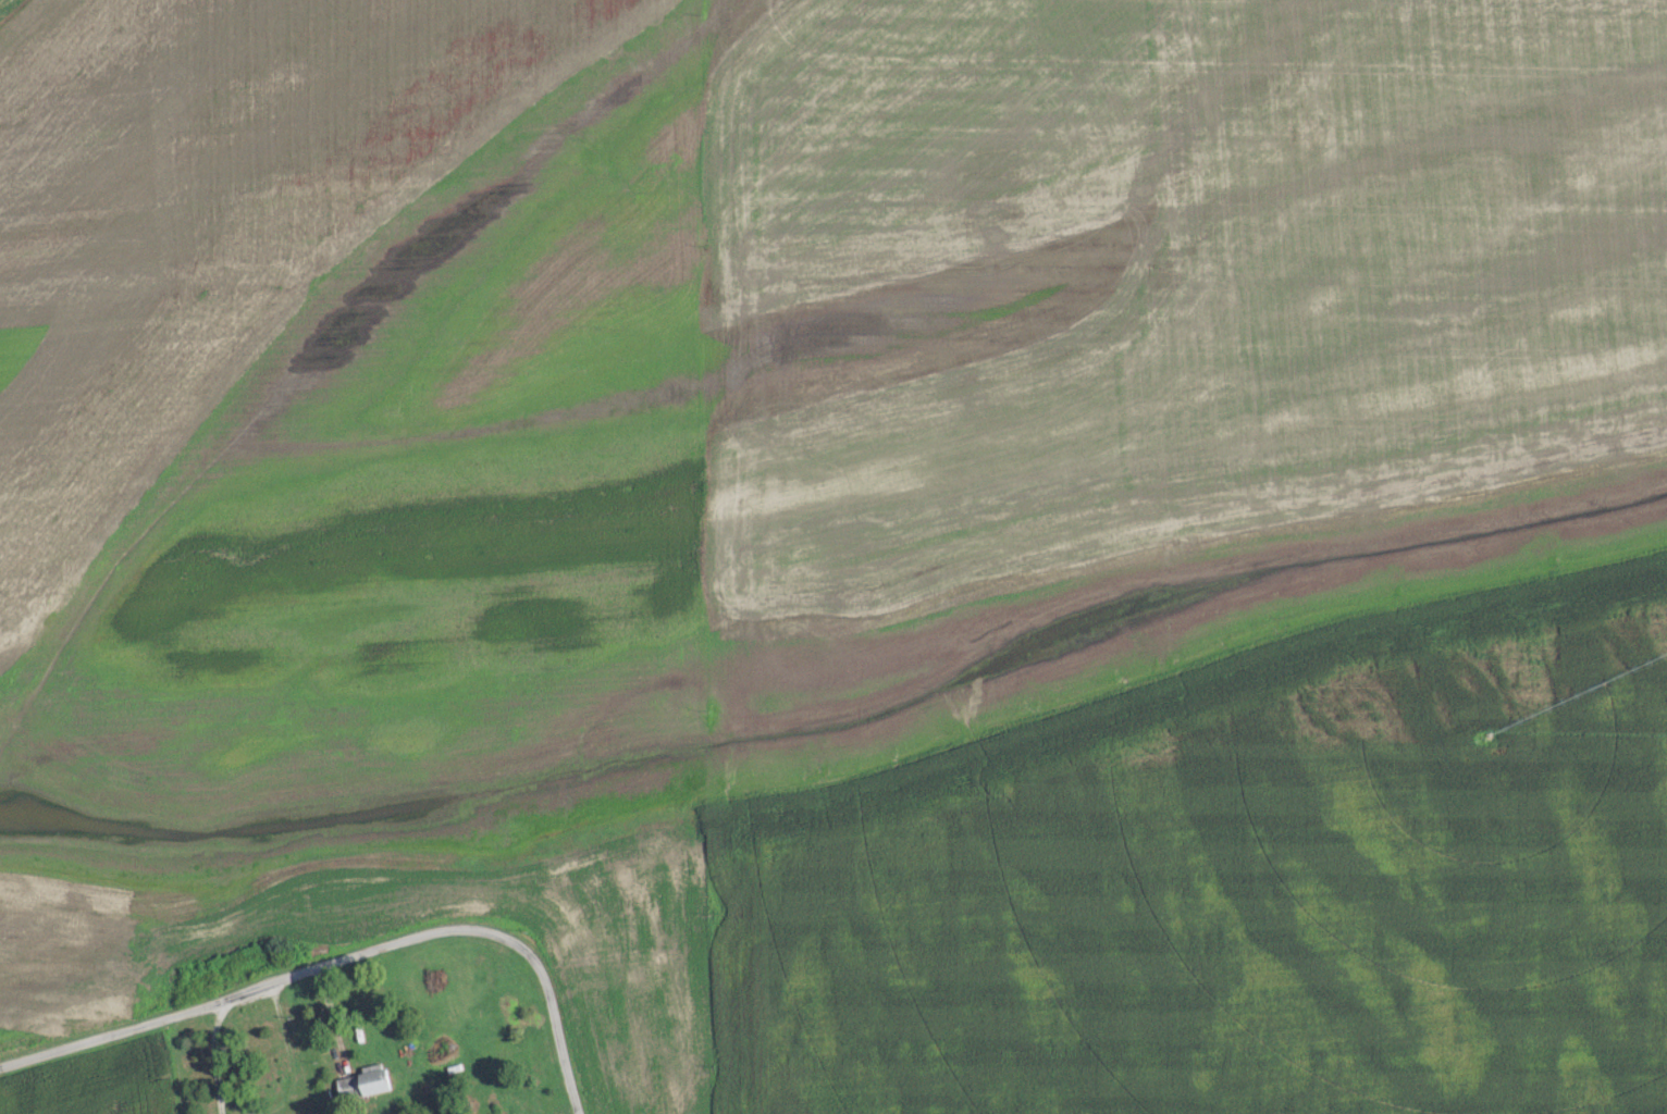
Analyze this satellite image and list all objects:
road: (344, 958)
building: (363, 1081)
road: (262, 1107)

